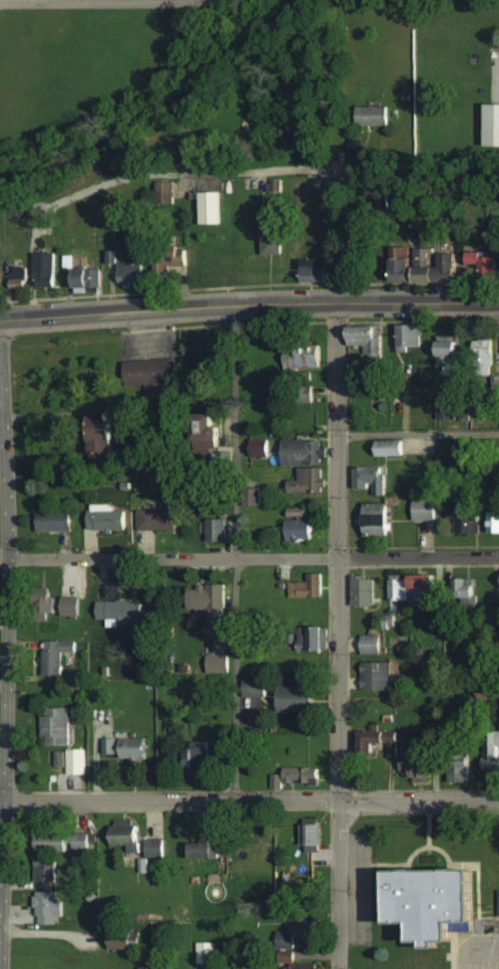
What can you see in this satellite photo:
building: (373, 116)
building: (493, 125)
road: (272, 179)
building: (211, 208)
road: (335, 238)
building: (271, 239)
building: (402, 253)
building: (425, 261)
building: (485, 263)
building: (45, 270)
building: (314, 270)
building: (404, 271)
building: (131, 272)
building: (17, 277)
building: (88, 279)
road: (249, 304)
building: (410, 336)
building: (365, 339)
building: (449, 356)
building: (303, 359)
building: (151, 374)
building: (447, 408)
road: (43, 416)
road: (2, 430)
building: (214, 431)
road: (417, 433)
building: (259, 448)
building: (390, 450)
building: (302, 452)
building: (370, 479)
building: (308, 481)
building: (255, 498)
building: (424, 509)
building: (106, 518)
building: (157, 519)
building: (377, 520)
building: (465, 520)
building: (55, 521)
building: (495, 523)
building: (299, 529)
building: (215, 530)
road: (232, 553)
road: (4, 556)
road: (253, 558)
building: (424, 582)
building: (307, 587)
building: (464, 588)
building: (399, 590)
building: (364, 592)
building: (209, 603)
building: (46, 605)
building: (71, 606)
building: (118, 612)
road: (338, 634)
building: (318, 639)
building: (371, 644)
building: (55, 656)
building: (217, 663)
road: (6, 670)
building: (376, 676)
building: (255, 687)
building: (297, 699)
building: (56, 725)
building: (379, 741)
building: (127, 747)
building: (224, 749)
building: (491, 752)
building: (59, 758)
building: (76, 760)
building: (197, 762)
building: (419, 765)
building: (460, 772)
building: (294, 777)
road: (249, 800)
building: (312, 834)
building: (127, 836)
building: (63, 840)
building: (208, 843)
building: (154, 847)
building: (143, 865)
building: (45, 869)
building: (498, 899)
building: (438, 900)
building: (48, 907)
building: (295, 932)
building: (123, 944)
building: (205, 952)
building: (298, 966)

